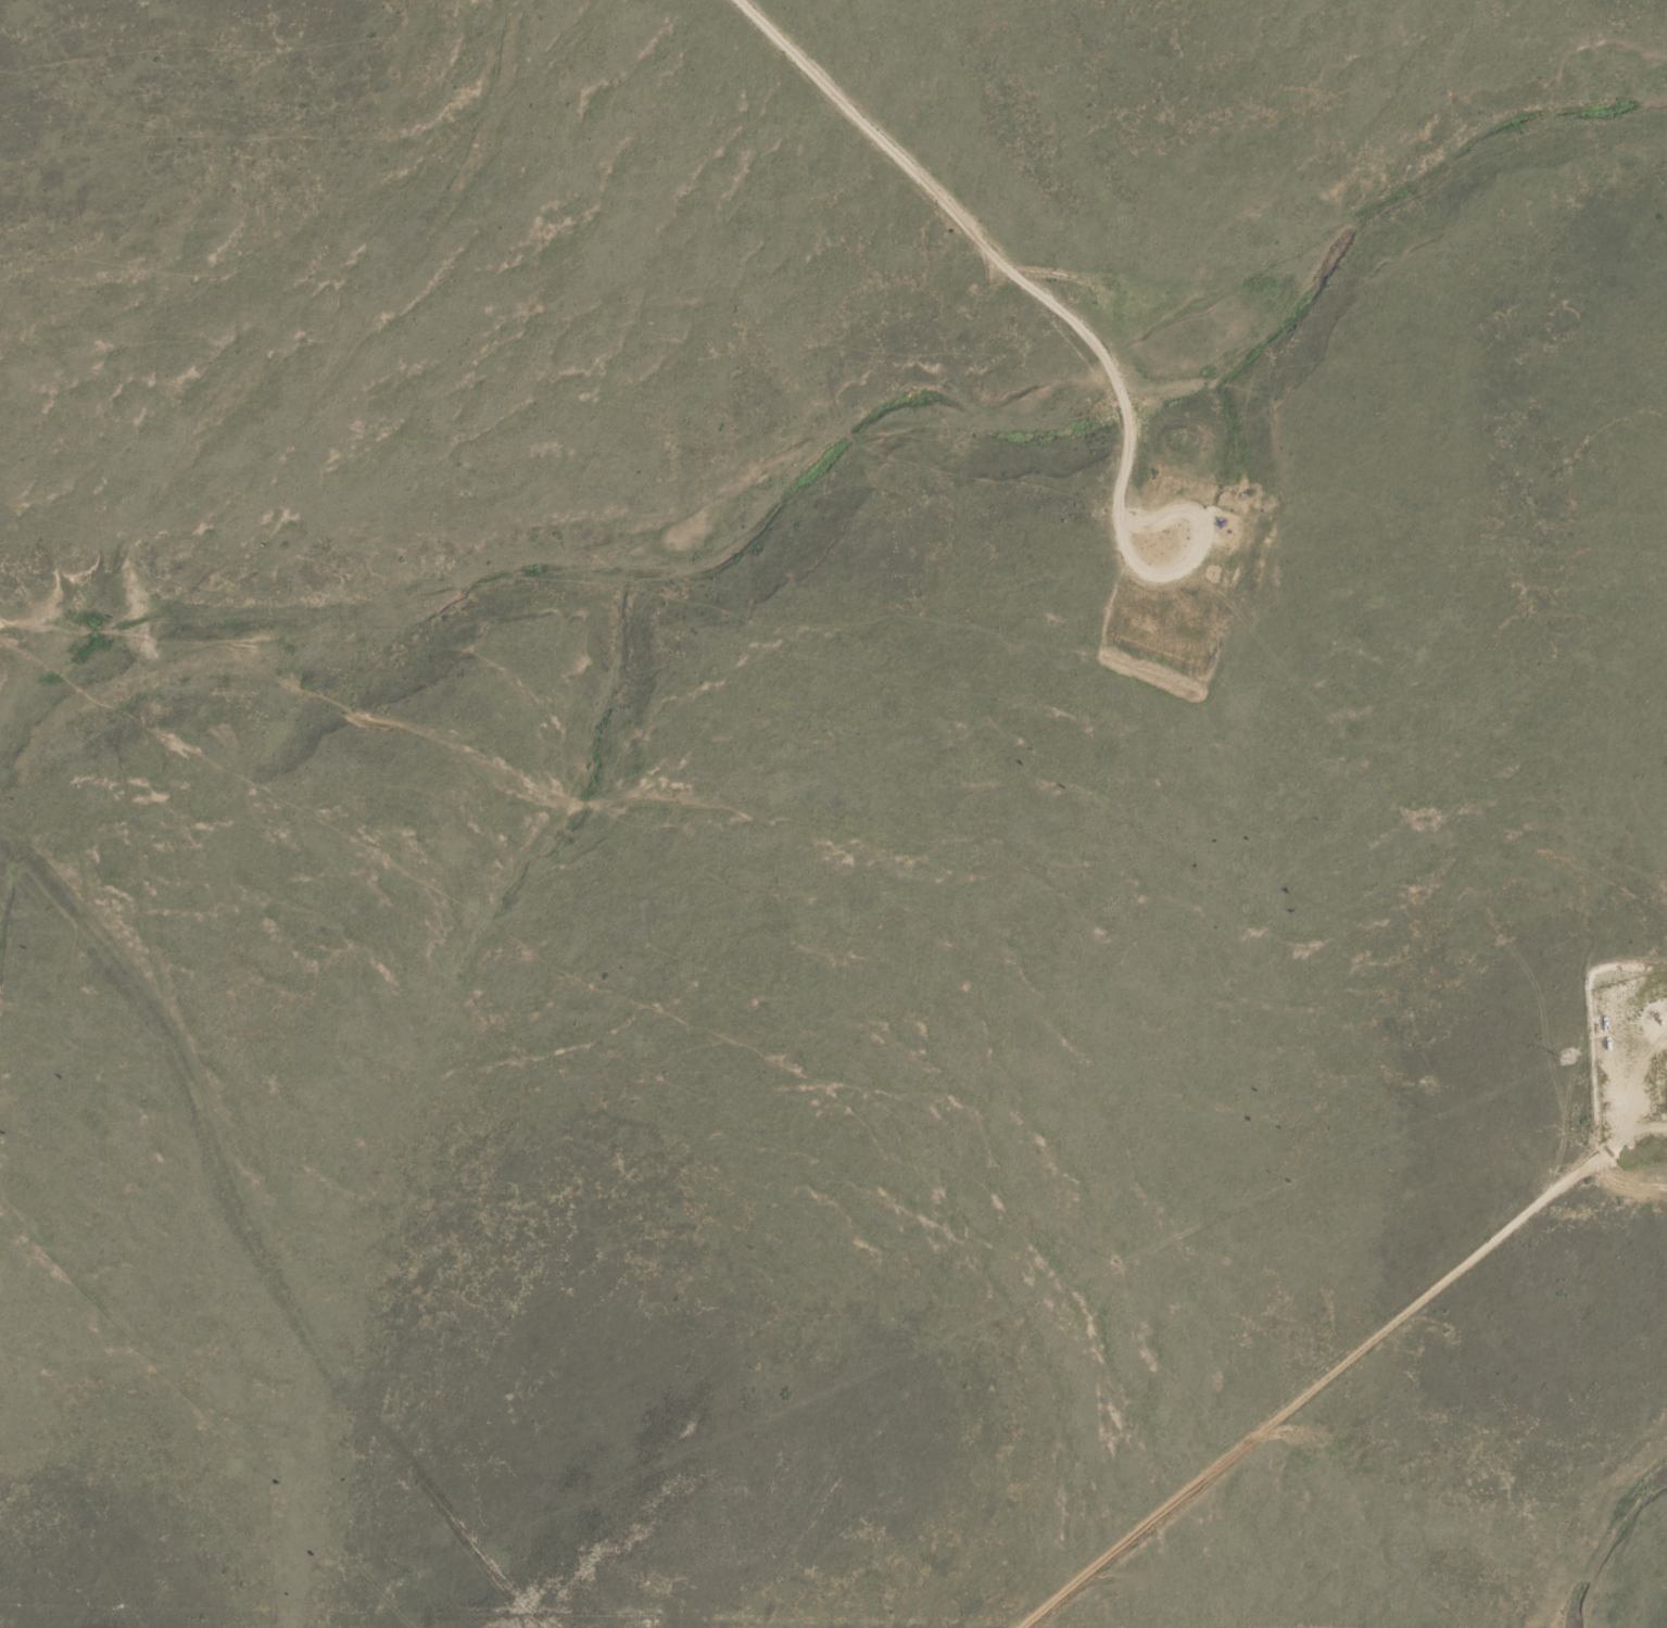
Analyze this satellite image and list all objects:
road: (237, 1257)

